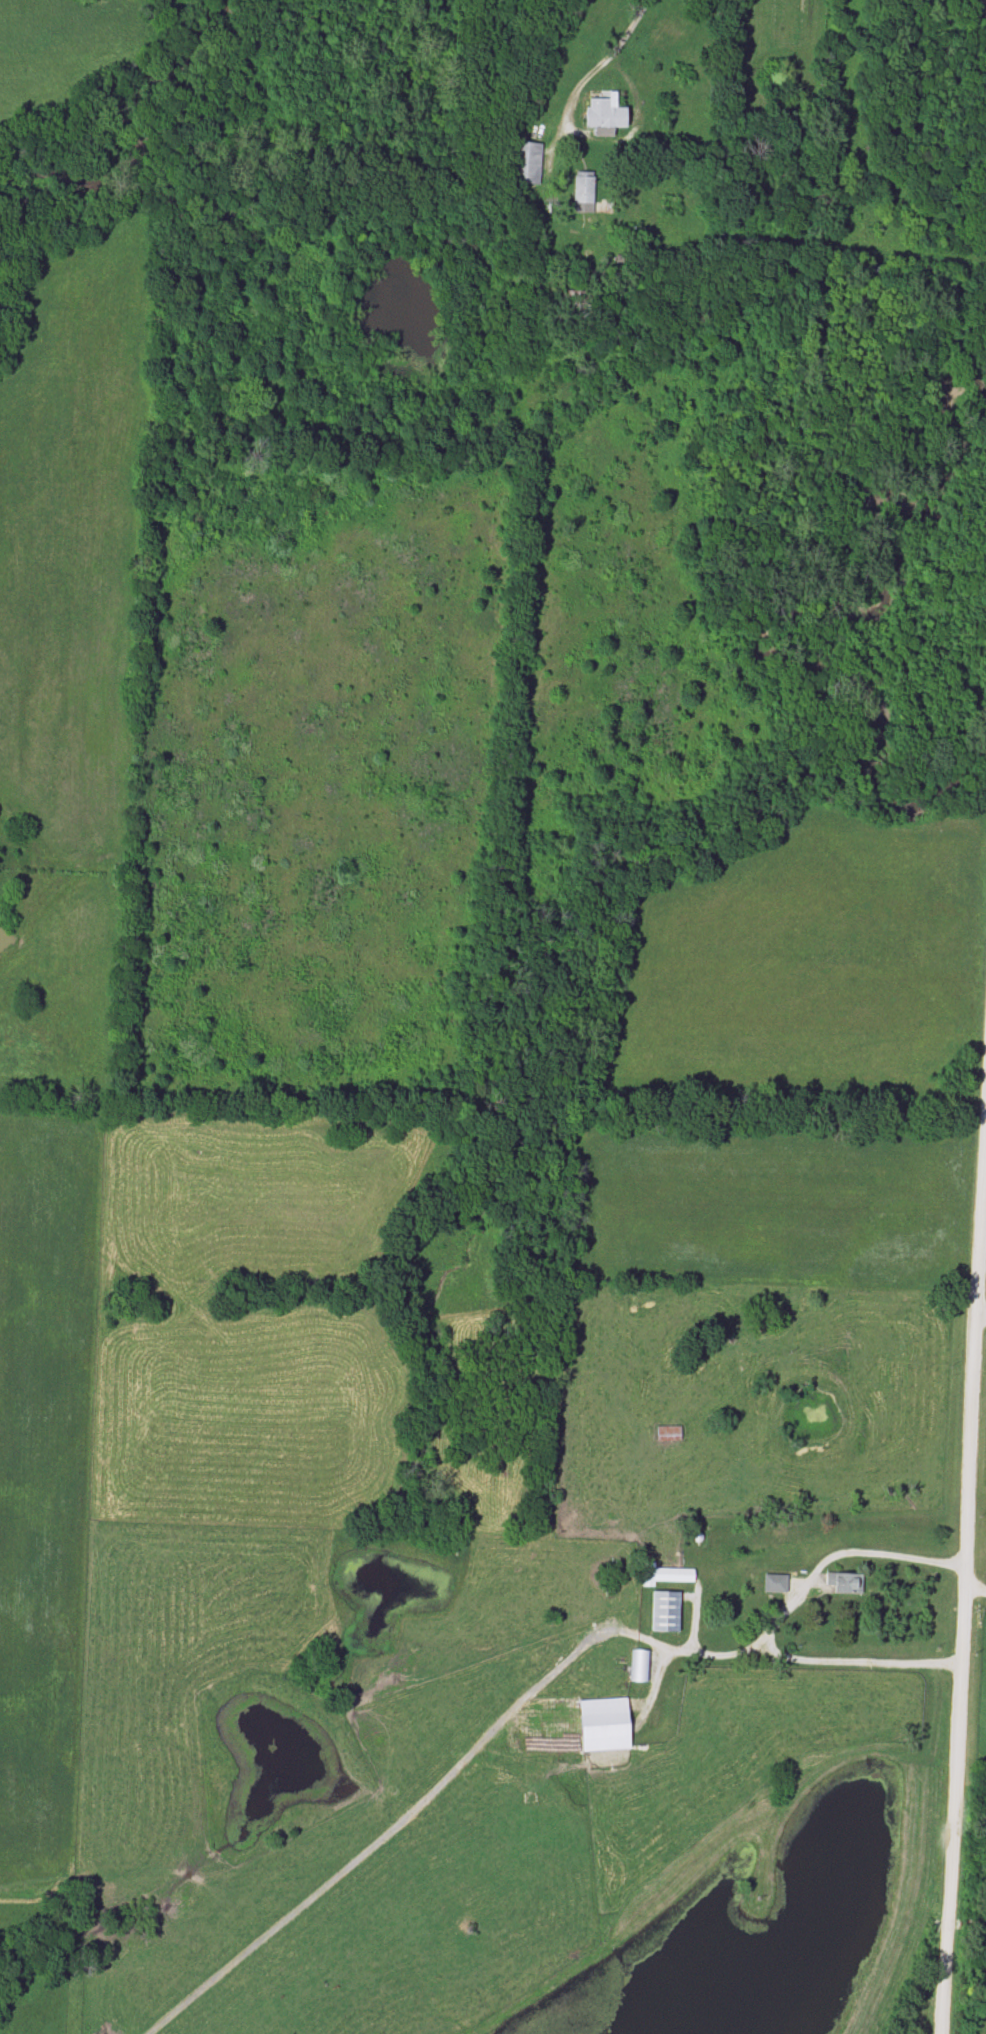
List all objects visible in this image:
road: (609, 50)
building: (605, 114)
building: (526, 163)
building: (583, 192)
road: (981, 1312)
building: (668, 1434)
road: (963, 1567)
building: (664, 1575)
building: (775, 1583)
building: (847, 1583)
road: (974, 1583)
building: (665, 1611)
road: (774, 1618)
road: (685, 1645)
building: (638, 1666)
building: (605, 1725)

